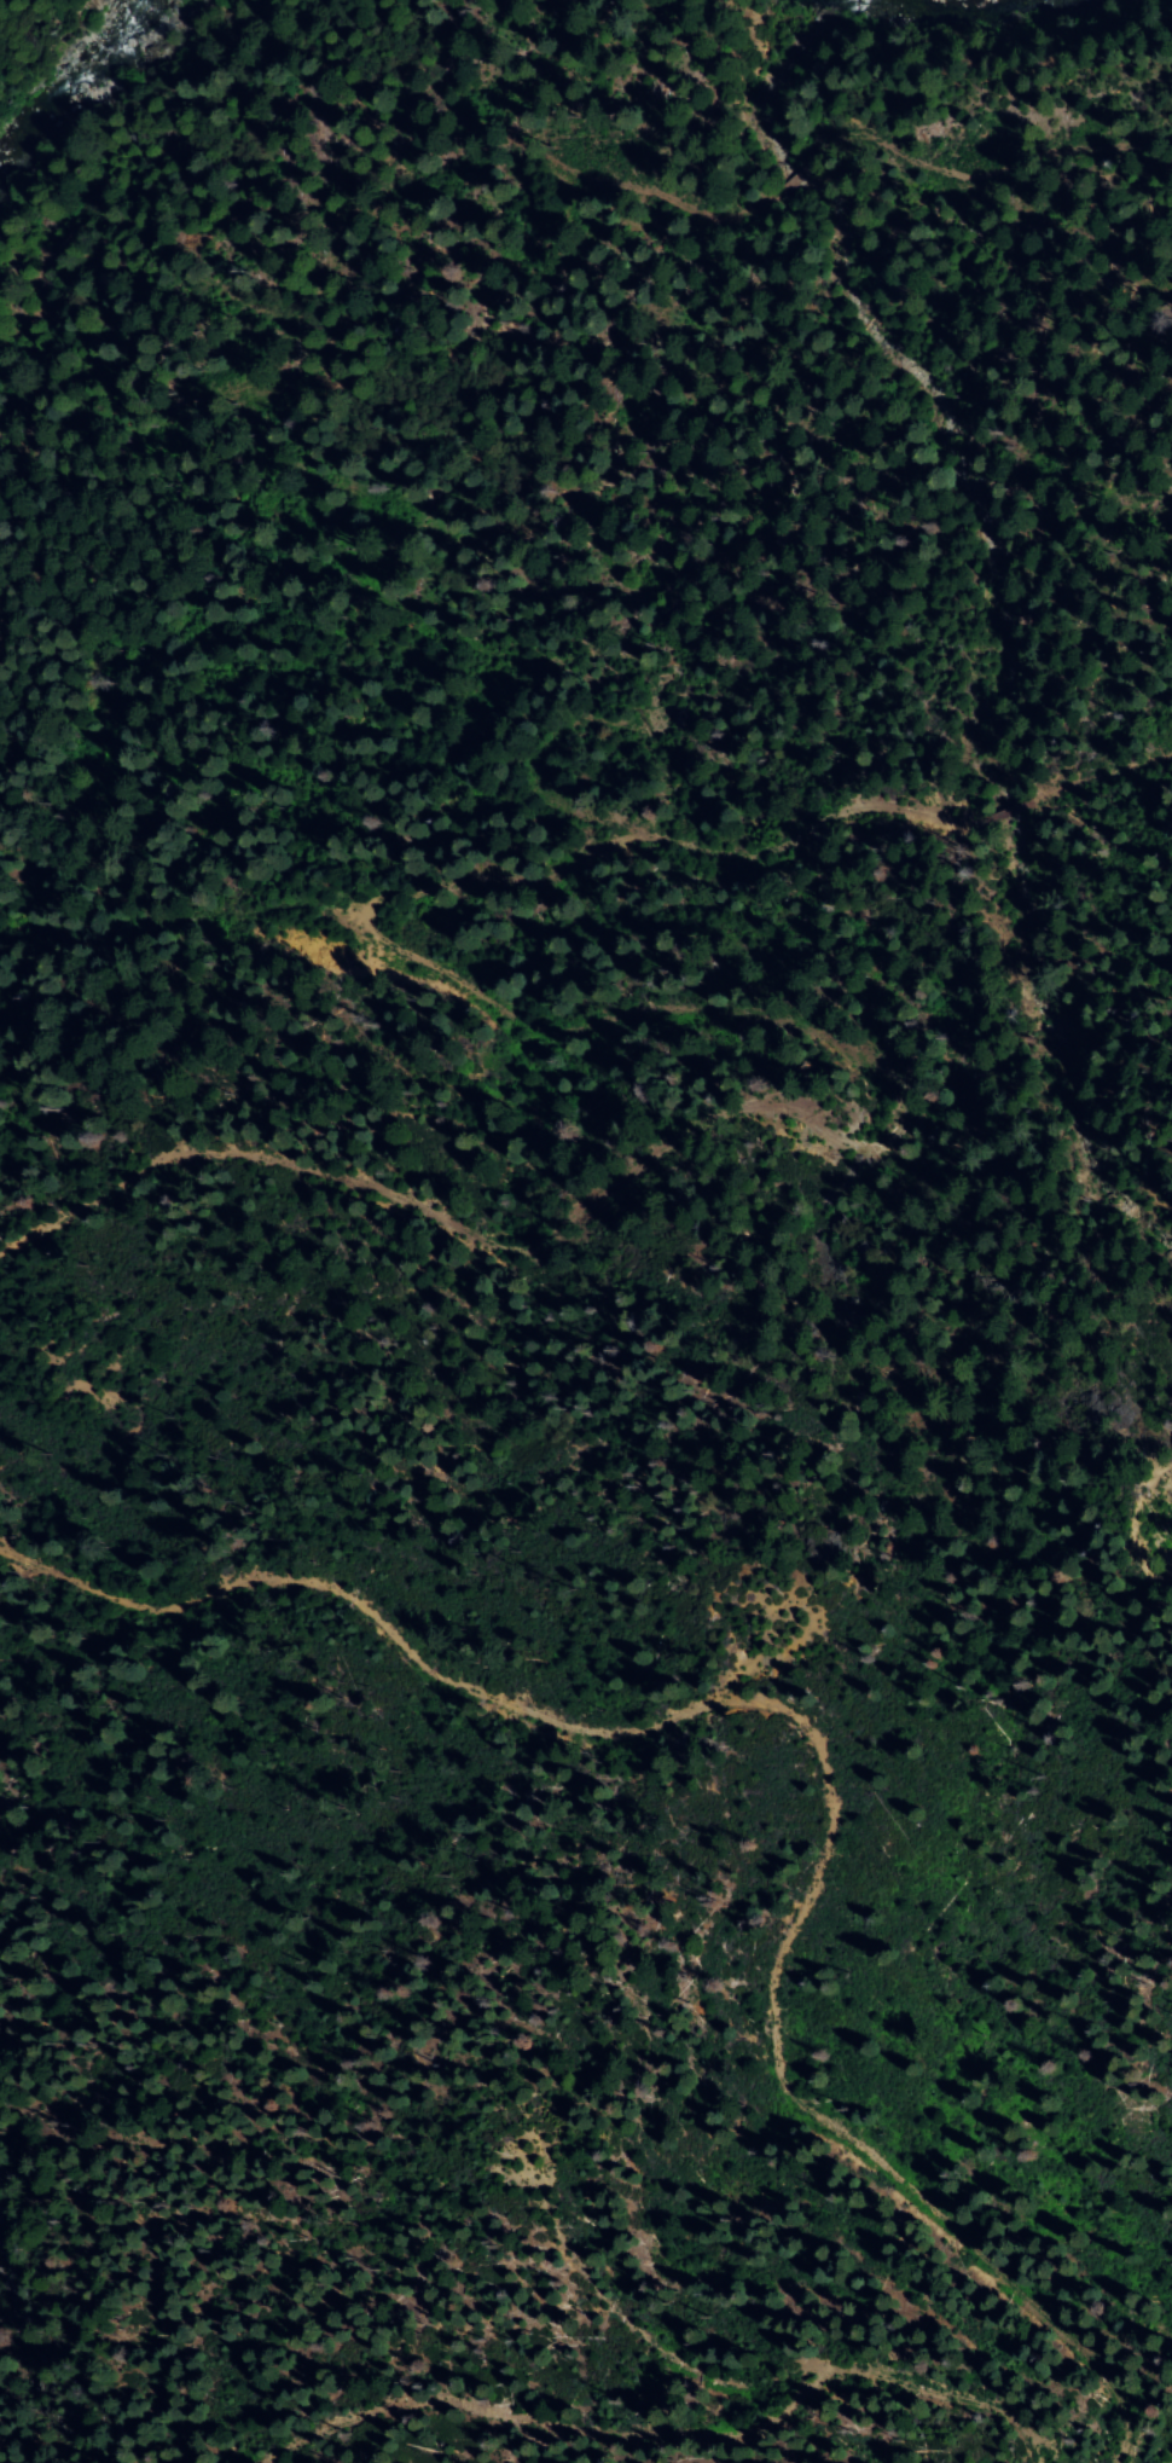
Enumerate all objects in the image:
river: (905, 0)
river: (60, 79)

